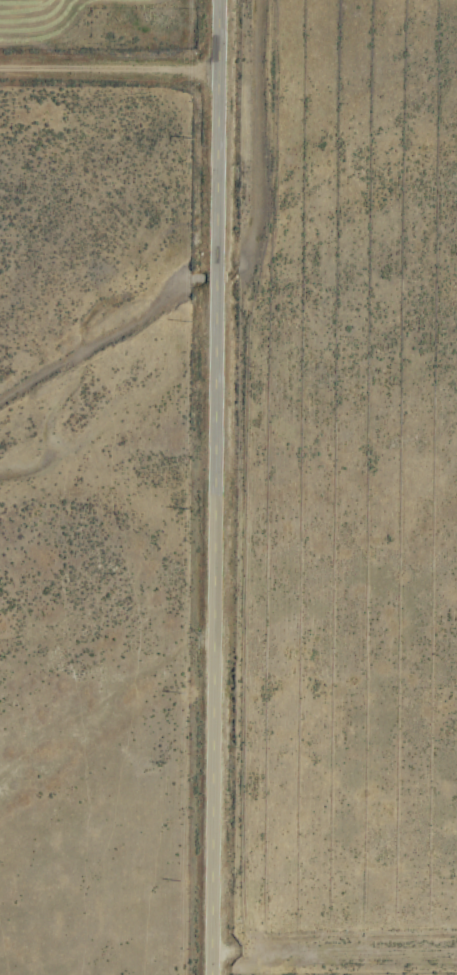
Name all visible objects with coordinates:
road: (106, 69)
road: (209, 487)
crop: (228, 487)
road: (331, 949)

